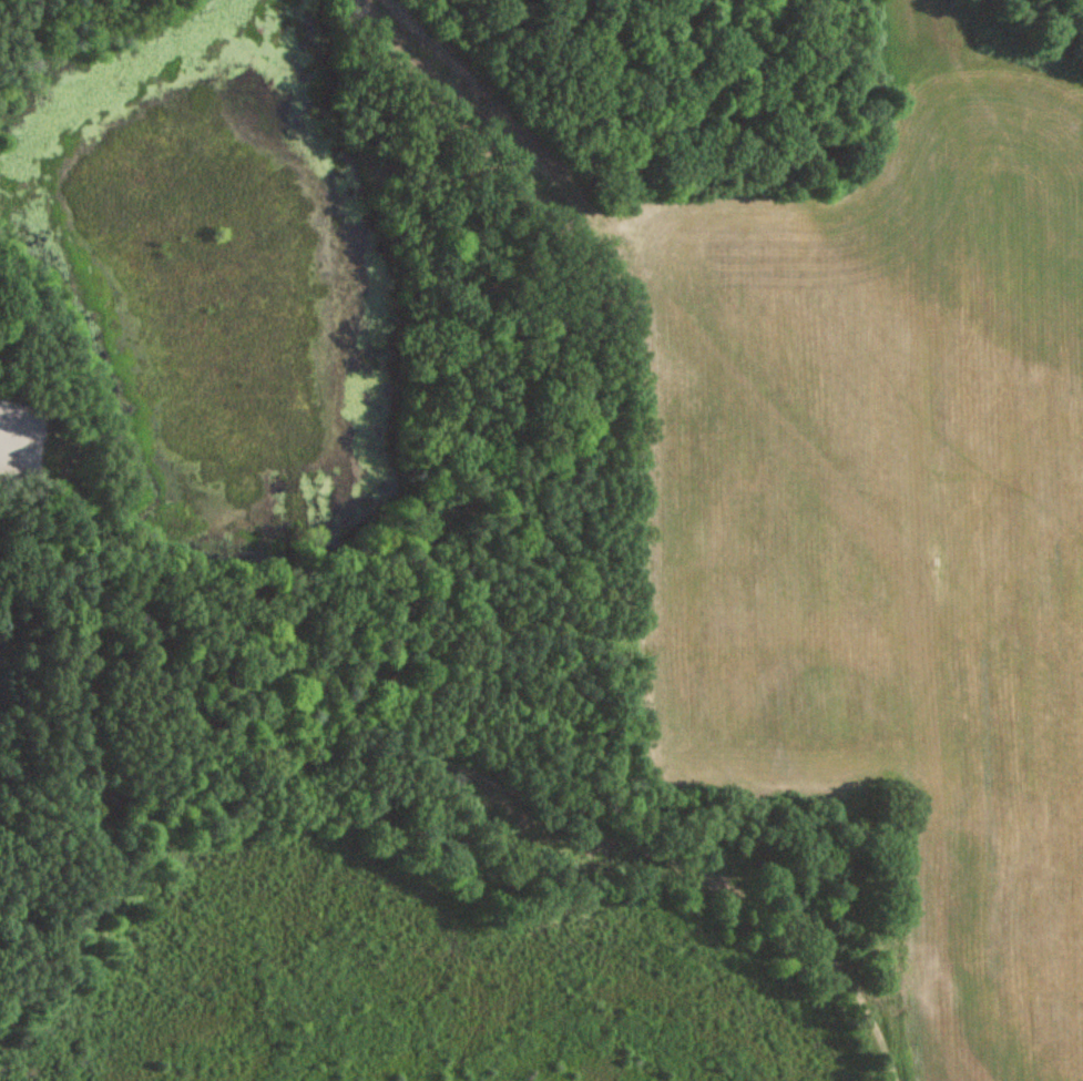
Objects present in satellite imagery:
road: (63, 701)
road: (499, 765)

